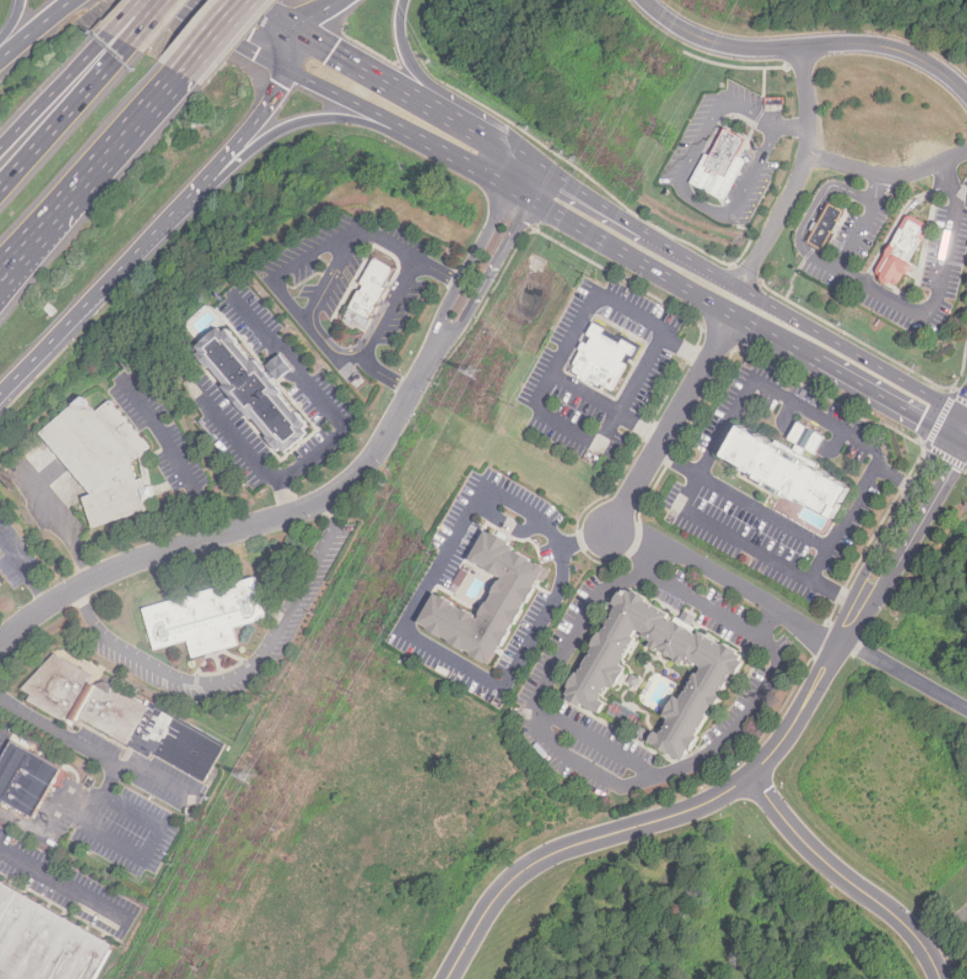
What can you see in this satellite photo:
road: (316, 14)
road: (266, 15)
road: (125, 16)
road: (12, 23)
road: (146, 23)
road: (34, 29)
traffic signals: (292, 30)
road: (232, 33)
road: (211, 37)
road: (270, 40)
road: (805, 47)
traffic signals: (289, 71)
road: (422, 80)
road: (55, 90)
road: (412, 98)
road: (267, 103)
road: (355, 105)
road: (63, 116)
road: (314, 119)
road: (789, 124)
building: (723, 166)
road: (885, 170)
road: (797, 175)
road: (89, 176)
road: (681, 185)
road: (814, 214)
road: (172, 218)
building: (828, 227)
road: (44, 235)
road: (659, 241)
building: (903, 248)
road: (477, 249)
road: (409, 254)
road: (497, 260)
road: (333, 275)
road: (280, 289)
road: (688, 292)
building: (370, 293)
road: (906, 304)
road: (388, 308)
building: (51, 310)
road: (62, 330)
road: (572, 333)
road: (742, 349)
building: (604, 359)
road: (877, 367)
road: (640, 372)
power tower: (472, 373)
road: (386, 374)
building: (255, 389)
road: (319, 395)
road: (964, 423)
road: (567, 426)
road: (670, 426)
traffic signals: (961, 428)
road: (964, 429)
road: (718, 437)
road: (175, 453)
road: (254, 453)
building: (102, 460)
road: (678, 460)
building: (793, 466)
road: (846, 523)
road: (61, 525)
road: (250, 527)
road: (901, 532)
road: (24, 571)
road: (727, 579)
building: (0, 582)
building: (511, 600)
road: (411, 612)
building: (208, 617)
road: (904, 673)
road: (242, 676)
building: (597, 680)
building: (634, 682)
road: (802, 710)
building: (124, 718)
building: (642, 733)
road: (73, 735)
road: (591, 774)
building: (27, 777)
power tower: (244, 779)
road: (150, 780)
road: (42, 825)
road: (577, 844)
road: (144, 856)
road: (847, 880)
road: (65, 884)
building: (44, 943)

